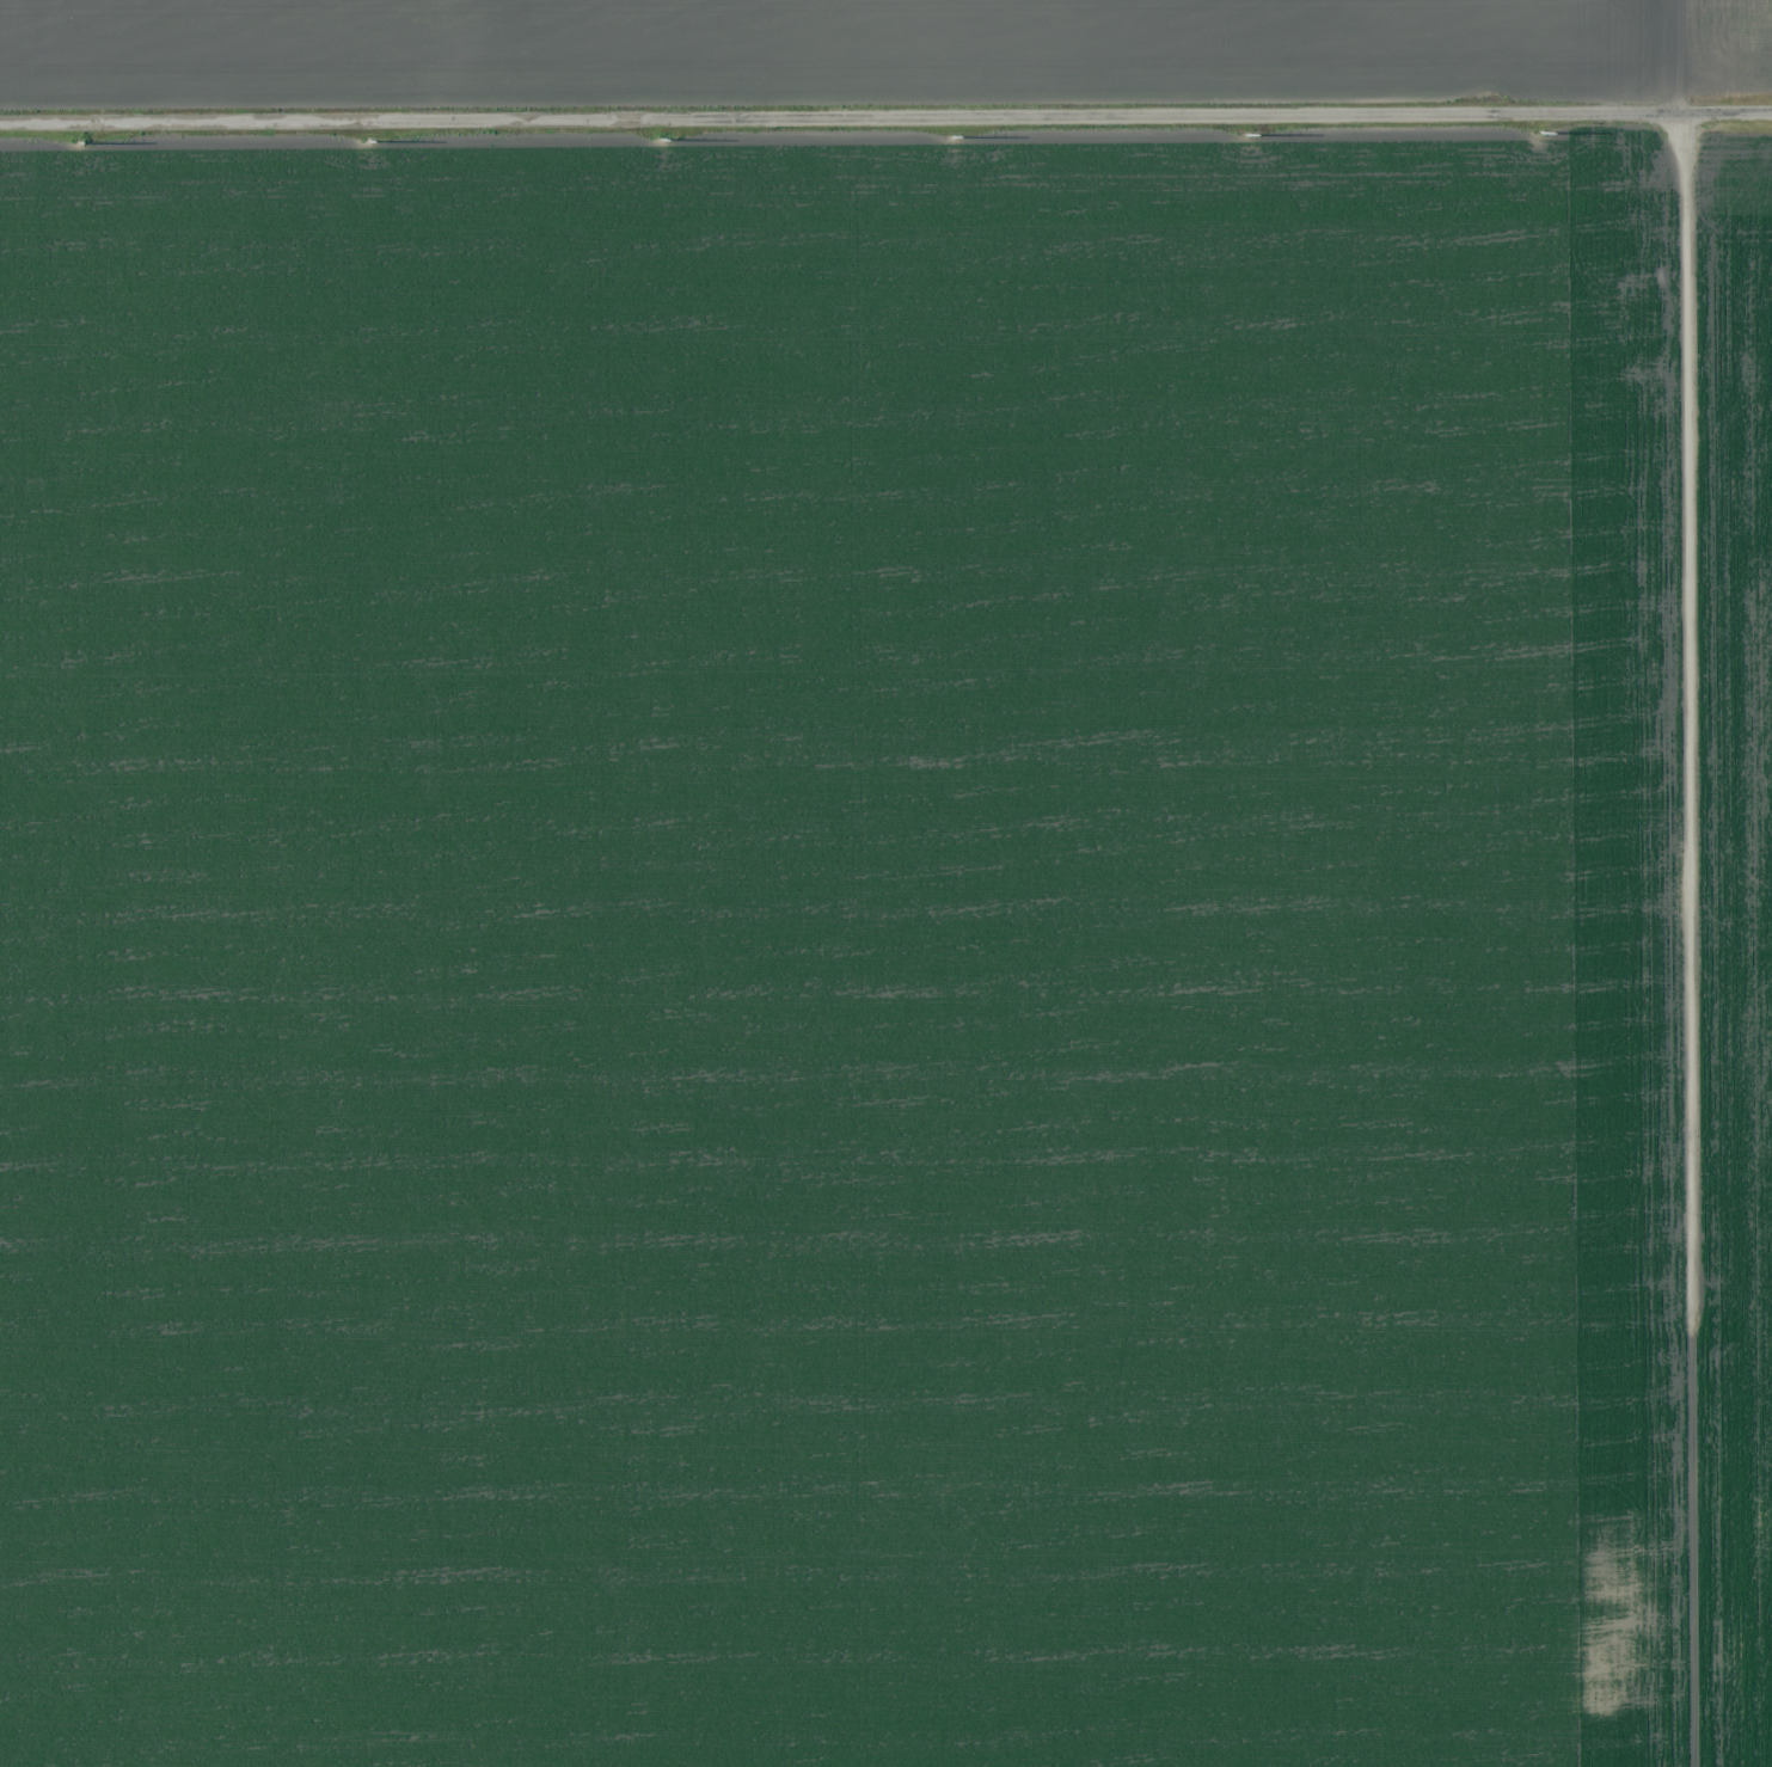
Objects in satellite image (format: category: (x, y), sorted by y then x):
road: (885, 118)
power tower: (1544, 130)
power tower: (1249, 134)
power tower: (954, 136)
power tower: (668, 137)
power tower: (370, 140)
power tower: (84, 142)

